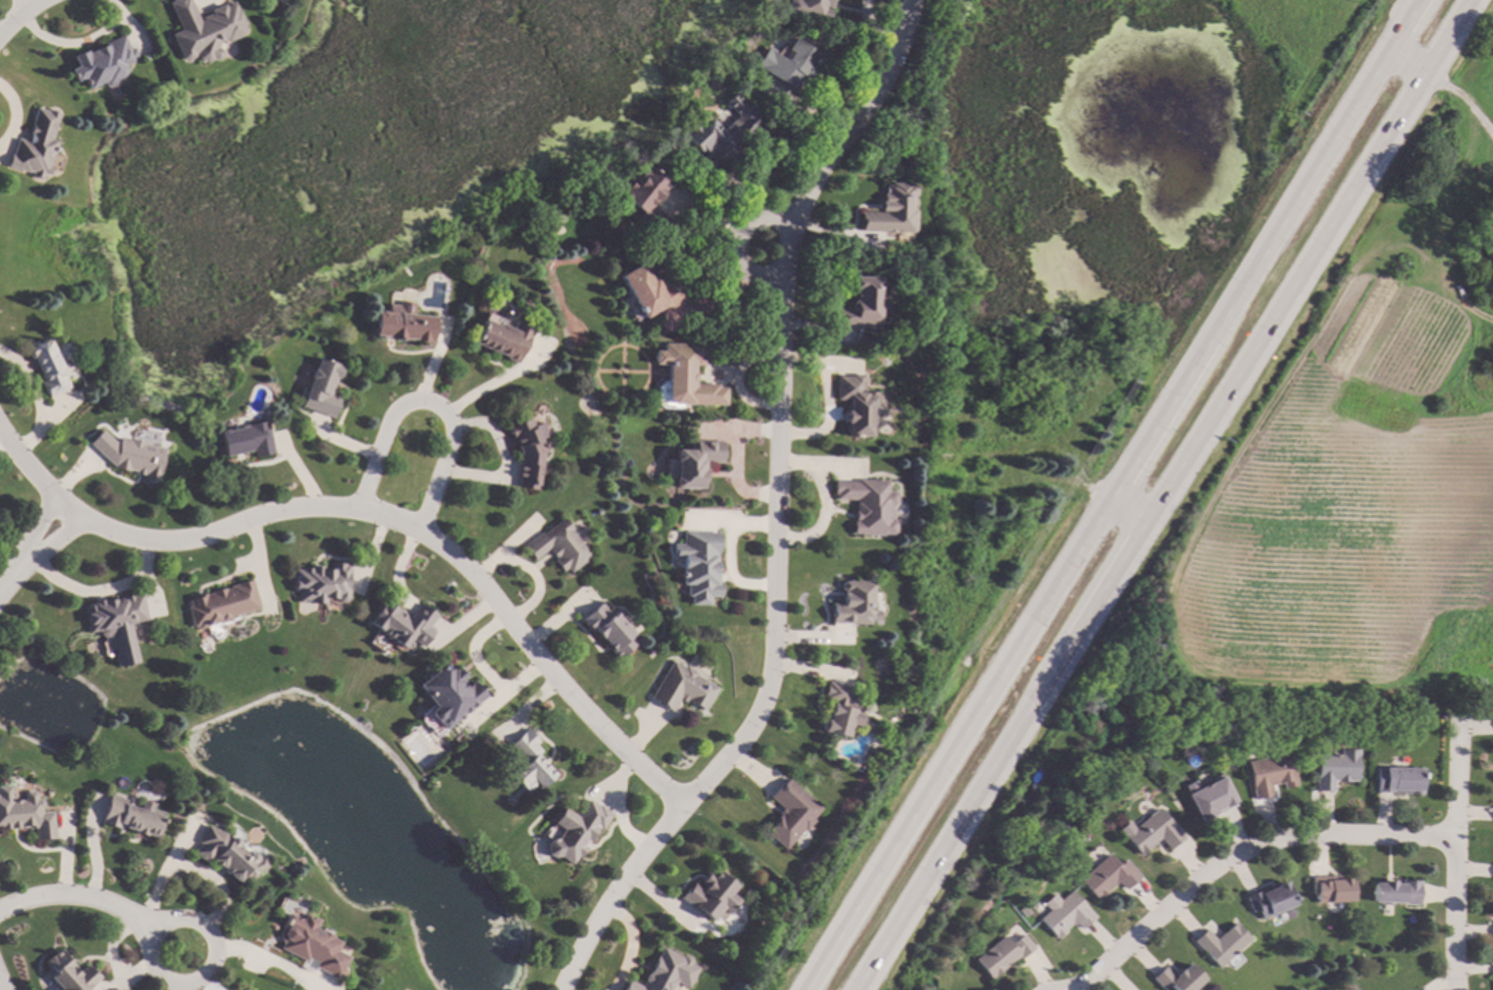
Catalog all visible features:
crop: (1394, 1)
road: (27, 5)
building: (809, 8)
road: (22, 17)
road: (1397, 22)
building: (203, 29)
road: (1443, 35)
road: (1402, 57)
building: (100, 62)
building: (790, 63)
crop: (1477, 66)
road: (1459, 101)
building: (722, 131)
building: (35, 145)
building: (645, 198)
building: (891, 211)
road: (736, 243)
building: (649, 291)
building: (860, 305)
building: (404, 323)
building: (502, 336)
road: (1191, 350)
building: (48, 366)
building: (685, 373)
road: (1231, 373)
road: (498, 383)
building: (322, 388)
road: (779, 402)
road: (432, 403)
building: (853, 403)
building: (246, 439)
building: (528, 451)
building: (131, 456)
building: (694, 462)
road: (735, 463)
crop: (1347, 497)
building: (867, 504)
road: (1120, 508)
road: (377, 514)
building: (558, 545)
road: (30, 551)
building: (698, 564)
building: (321, 582)
road: (94, 591)
building: (854, 602)
building: (220, 604)
building: (401, 623)
building: (116, 624)
building: (608, 628)
building: (682, 688)
building: (448, 693)
building: (840, 708)
building: (528, 762)
building: (1334, 769)
building: (1270, 774)
building: (1399, 780)
building: (1209, 797)
building: (790, 812)
building: (24, 813)
building: (130, 816)
road: (902, 825)
building: (574, 830)
building: (1150, 832)
road: (948, 834)
road: (1245, 852)
building: (227, 853)
road: (1454, 853)
building: (1108, 875)
building: (1330, 889)
building: (1396, 892)
road: (617, 894)
building: (710, 895)
road: (81, 897)
building: (1270, 899)
building: (1024, 911)
building: (1066, 914)
building: (1221, 943)
building: (310, 944)
building: (1003, 954)
road: (153, 966)
building: (67, 972)
building: (665, 972)
building: (1177, 978)
road: (1, 986)

